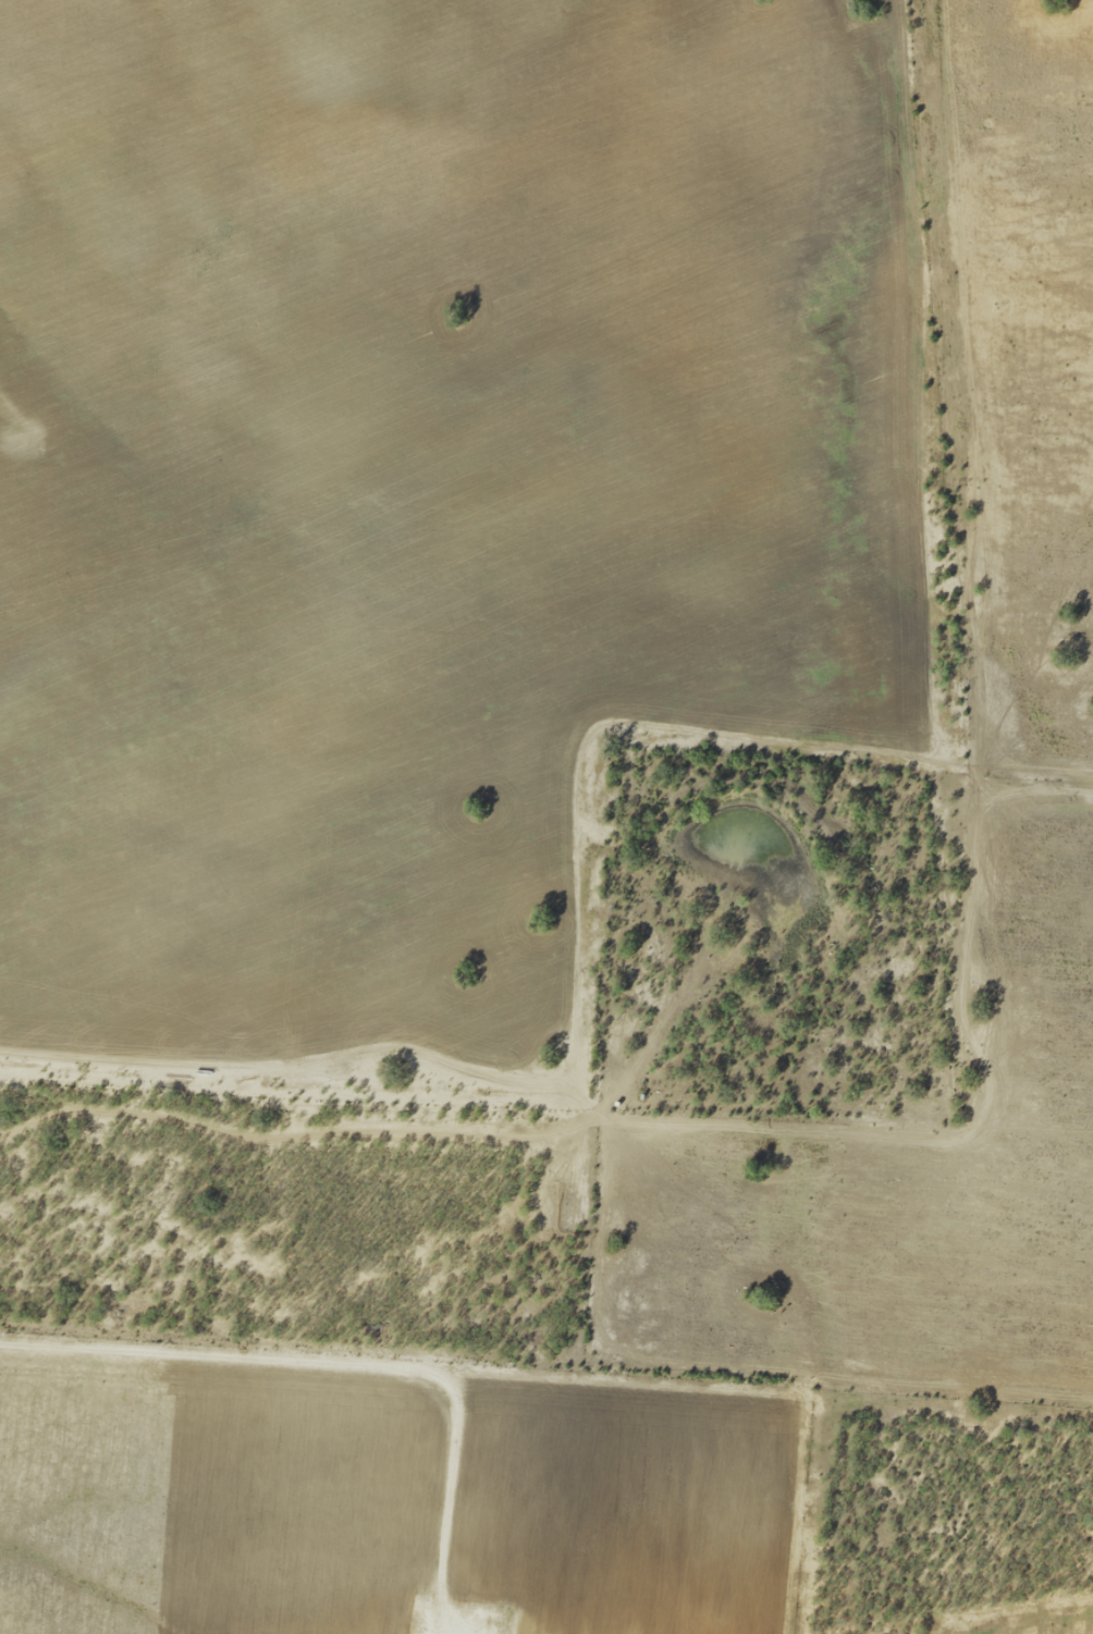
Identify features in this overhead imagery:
road: (253, 1354)

